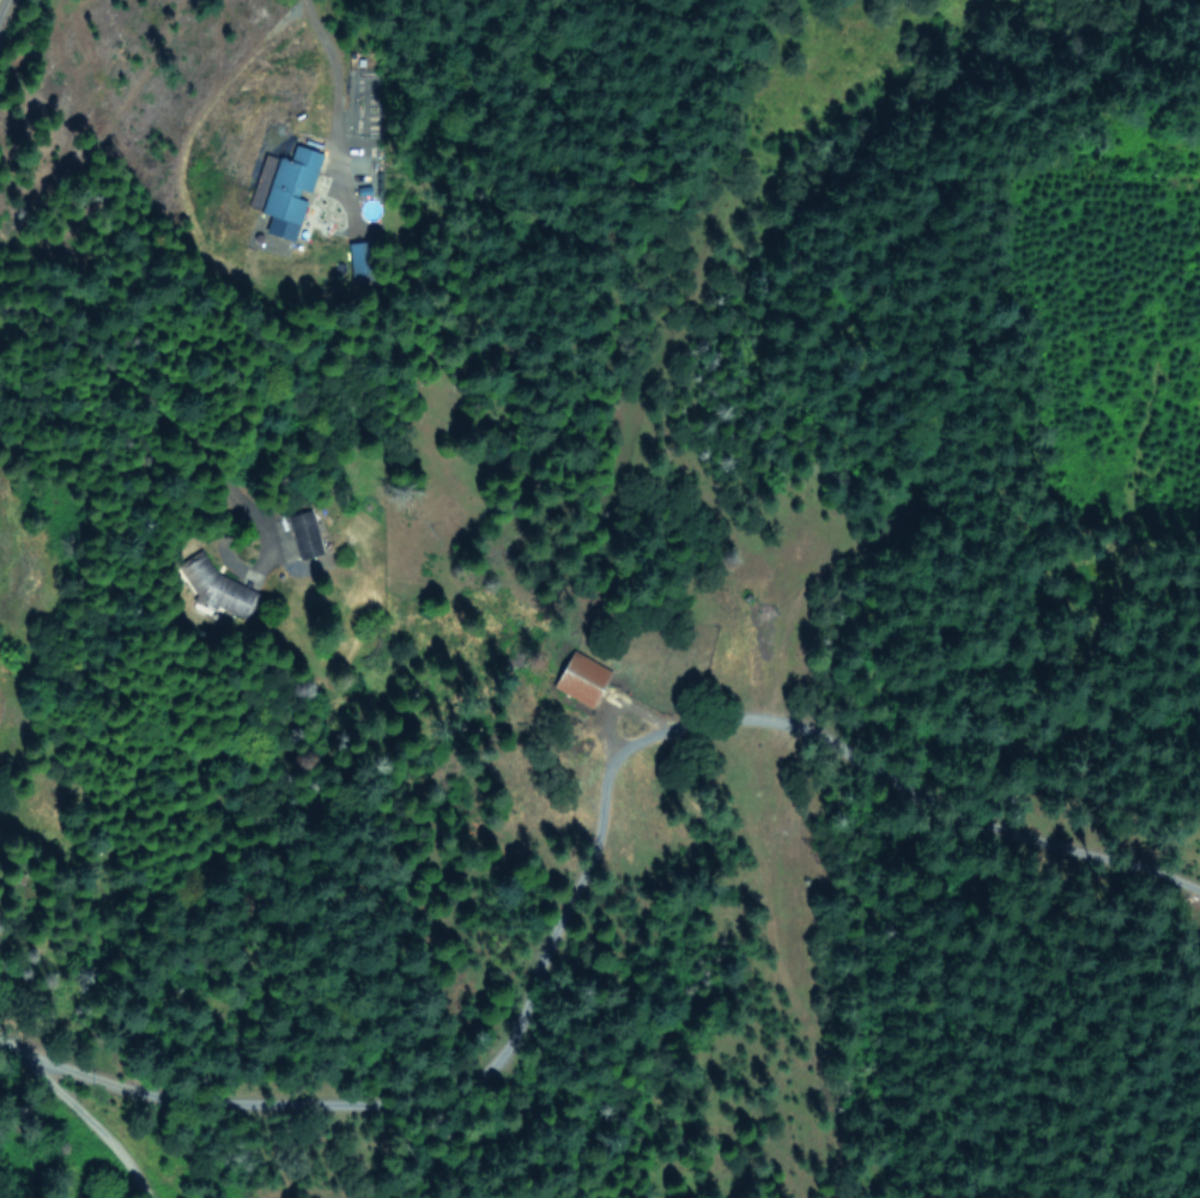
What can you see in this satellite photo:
road: (329, 68)
building: (284, 197)
building: (359, 260)
building: (303, 536)
building: (216, 588)
building: (578, 679)
road: (593, 839)
road: (50, 1078)
road: (126, 1164)
road: (200, 1166)

